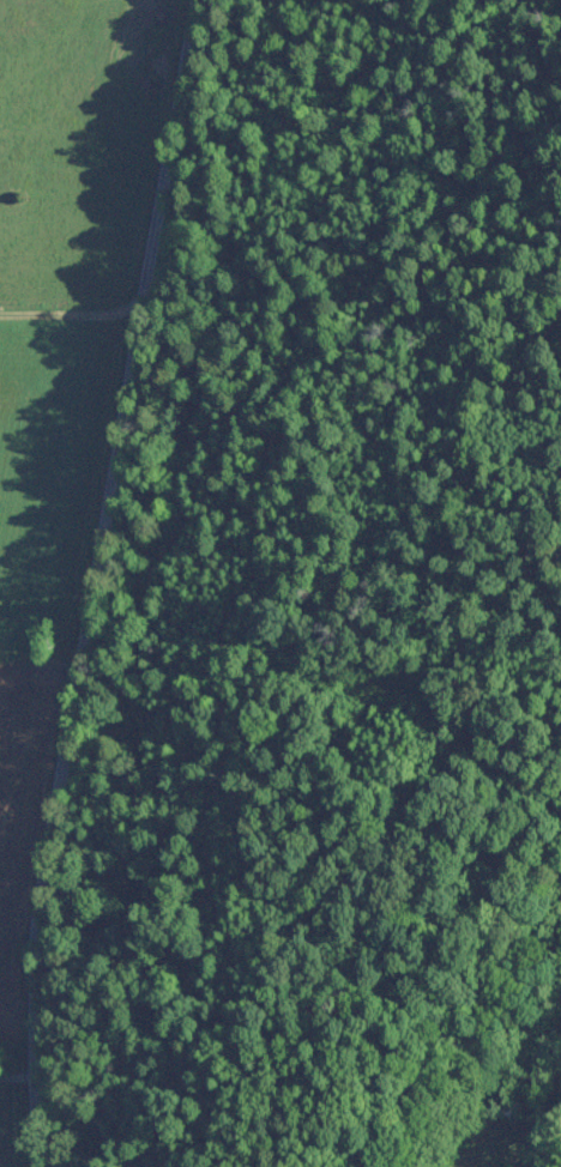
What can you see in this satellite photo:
road: (90, 580)

